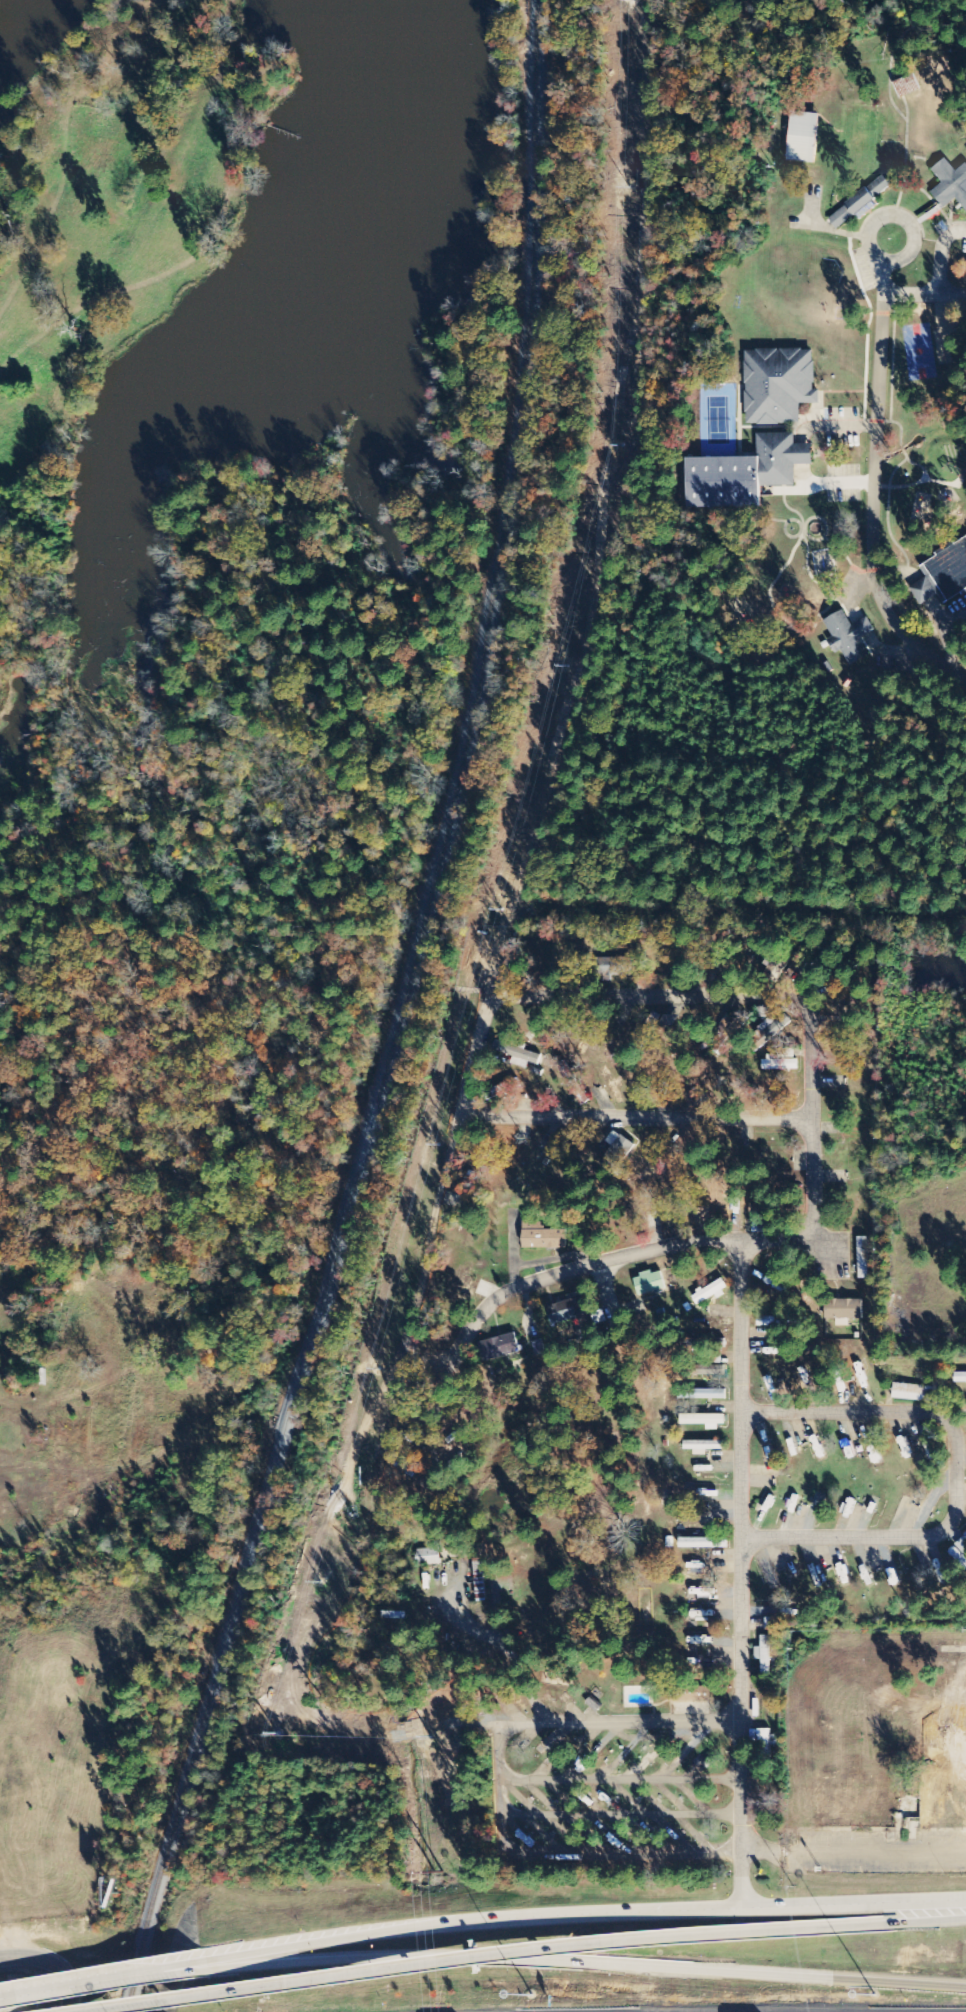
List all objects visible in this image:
building: (804, 137)
building: (950, 184)
building: (863, 200)
road: (895, 218)
building: (779, 386)
building: (744, 474)
road: (875, 491)
building: (944, 575)
building: (850, 637)
road: (695, 997)
railway: (399, 1018)
building: (773, 1027)
building: (517, 1054)
building: (779, 1063)
road: (636, 1121)
building: (619, 1152)
building: (542, 1236)
building: (863, 1258)
road: (624, 1260)
road: (425, 1263)
building: (650, 1283)
building: (711, 1293)
building: (845, 1309)
building: (567, 1311)
building: (770, 1323)
building: (499, 1347)
building: (712, 1371)
building: (960, 1378)
building: (914, 1393)
building: (706, 1395)
building: (704, 1421)
road: (957, 1476)
building: (703, 1543)
building: (960, 1553)
building: (428, 1557)
road: (741, 1572)
building: (702, 1593)
building: (702, 1616)
road: (505, 1651)
building: (764, 1655)
building: (690, 1694)
road: (615, 1722)
road: (621, 1781)
building: (755, 1788)
road: (622, 1815)
road: (854, 1857)
road: (555, 1860)
road: (560, 1916)
road: (794, 1928)
road: (27, 1956)
road: (562, 1961)
road: (348, 1973)
road: (138, 1974)
road: (60, 1988)
road: (60, 1989)
street lamp: (534, 1997)
road: (0, 1998)
street lamp: (877, 1999)

